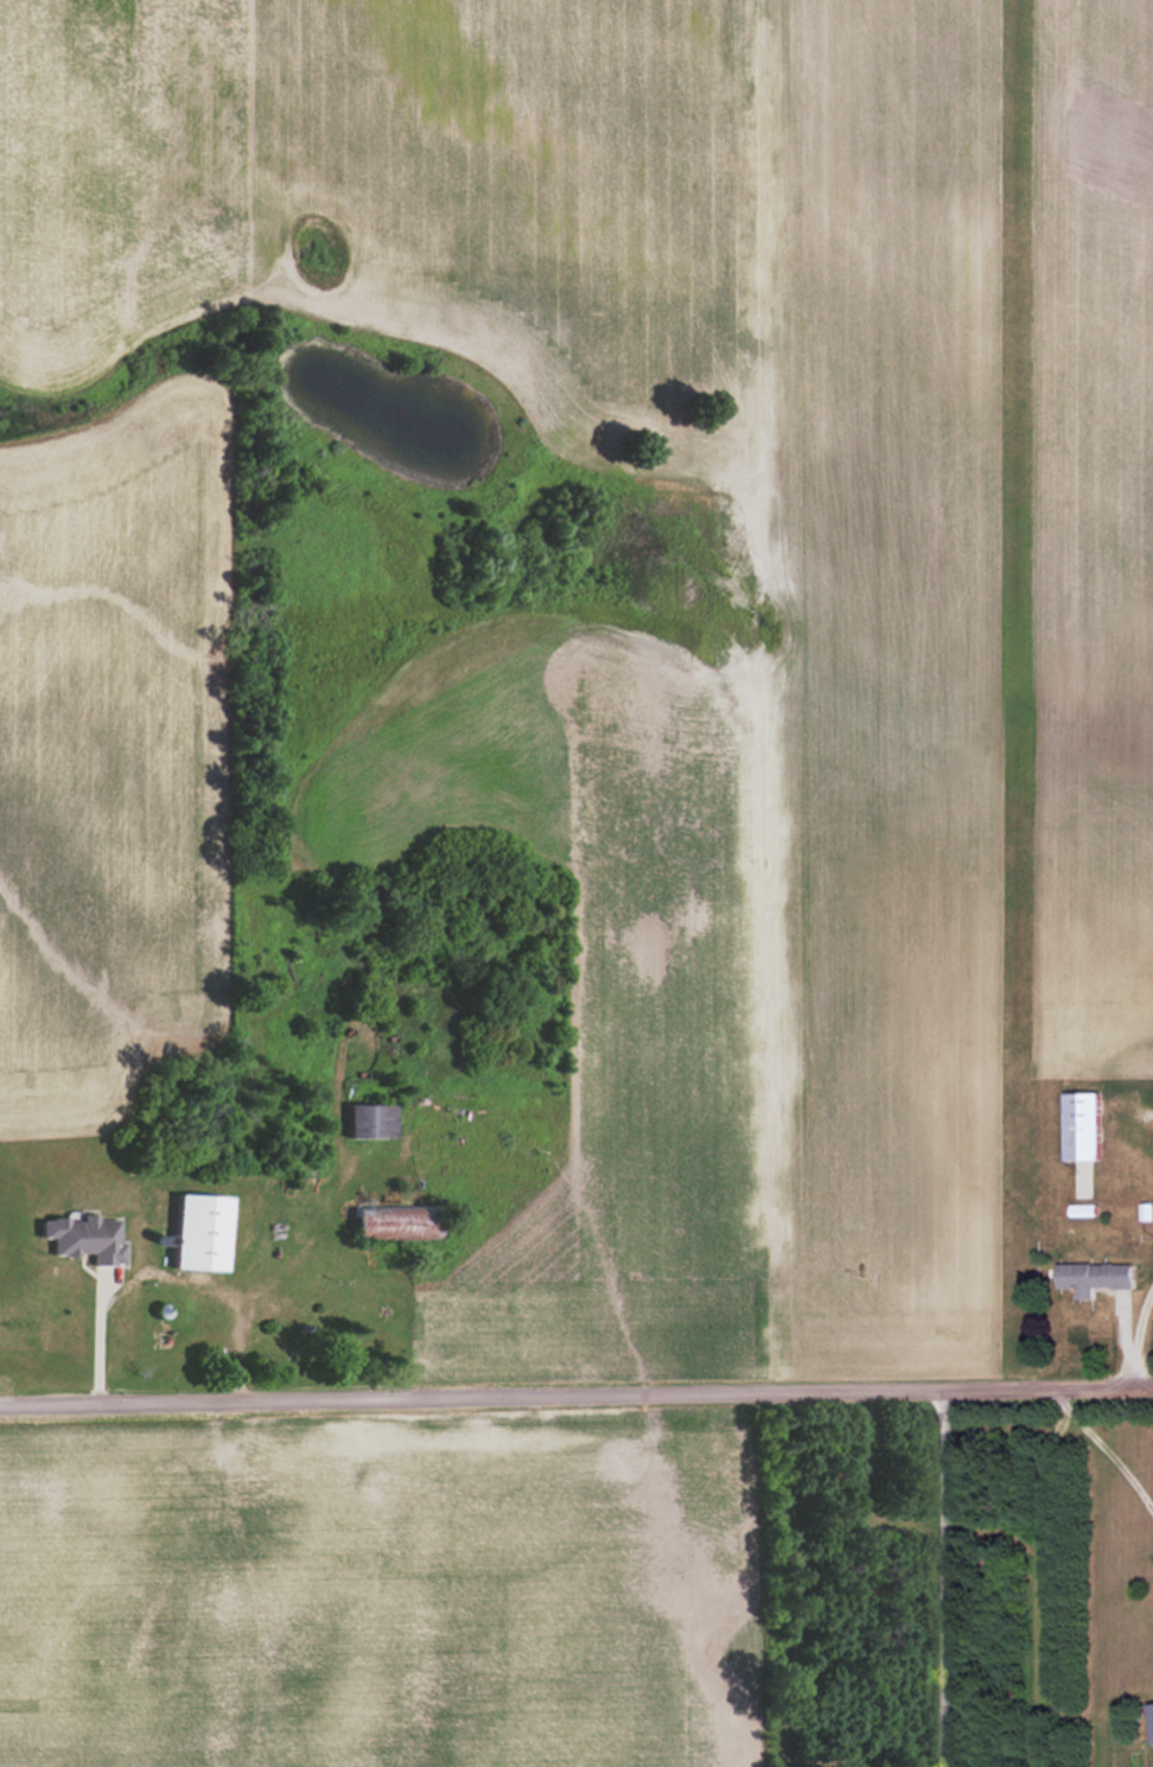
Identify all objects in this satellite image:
airport runway: (1018, 685)
building: (371, 1120)
building: (1082, 1126)
building: (396, 1221)
building: (199, 1232)
building: (85, 1238)
building: (1095, 1277)
road: (1138, 1335)
road: (576, 1394)
road: (1103, 1447)
road: (943, 1577)
building: (1152, 1715)

